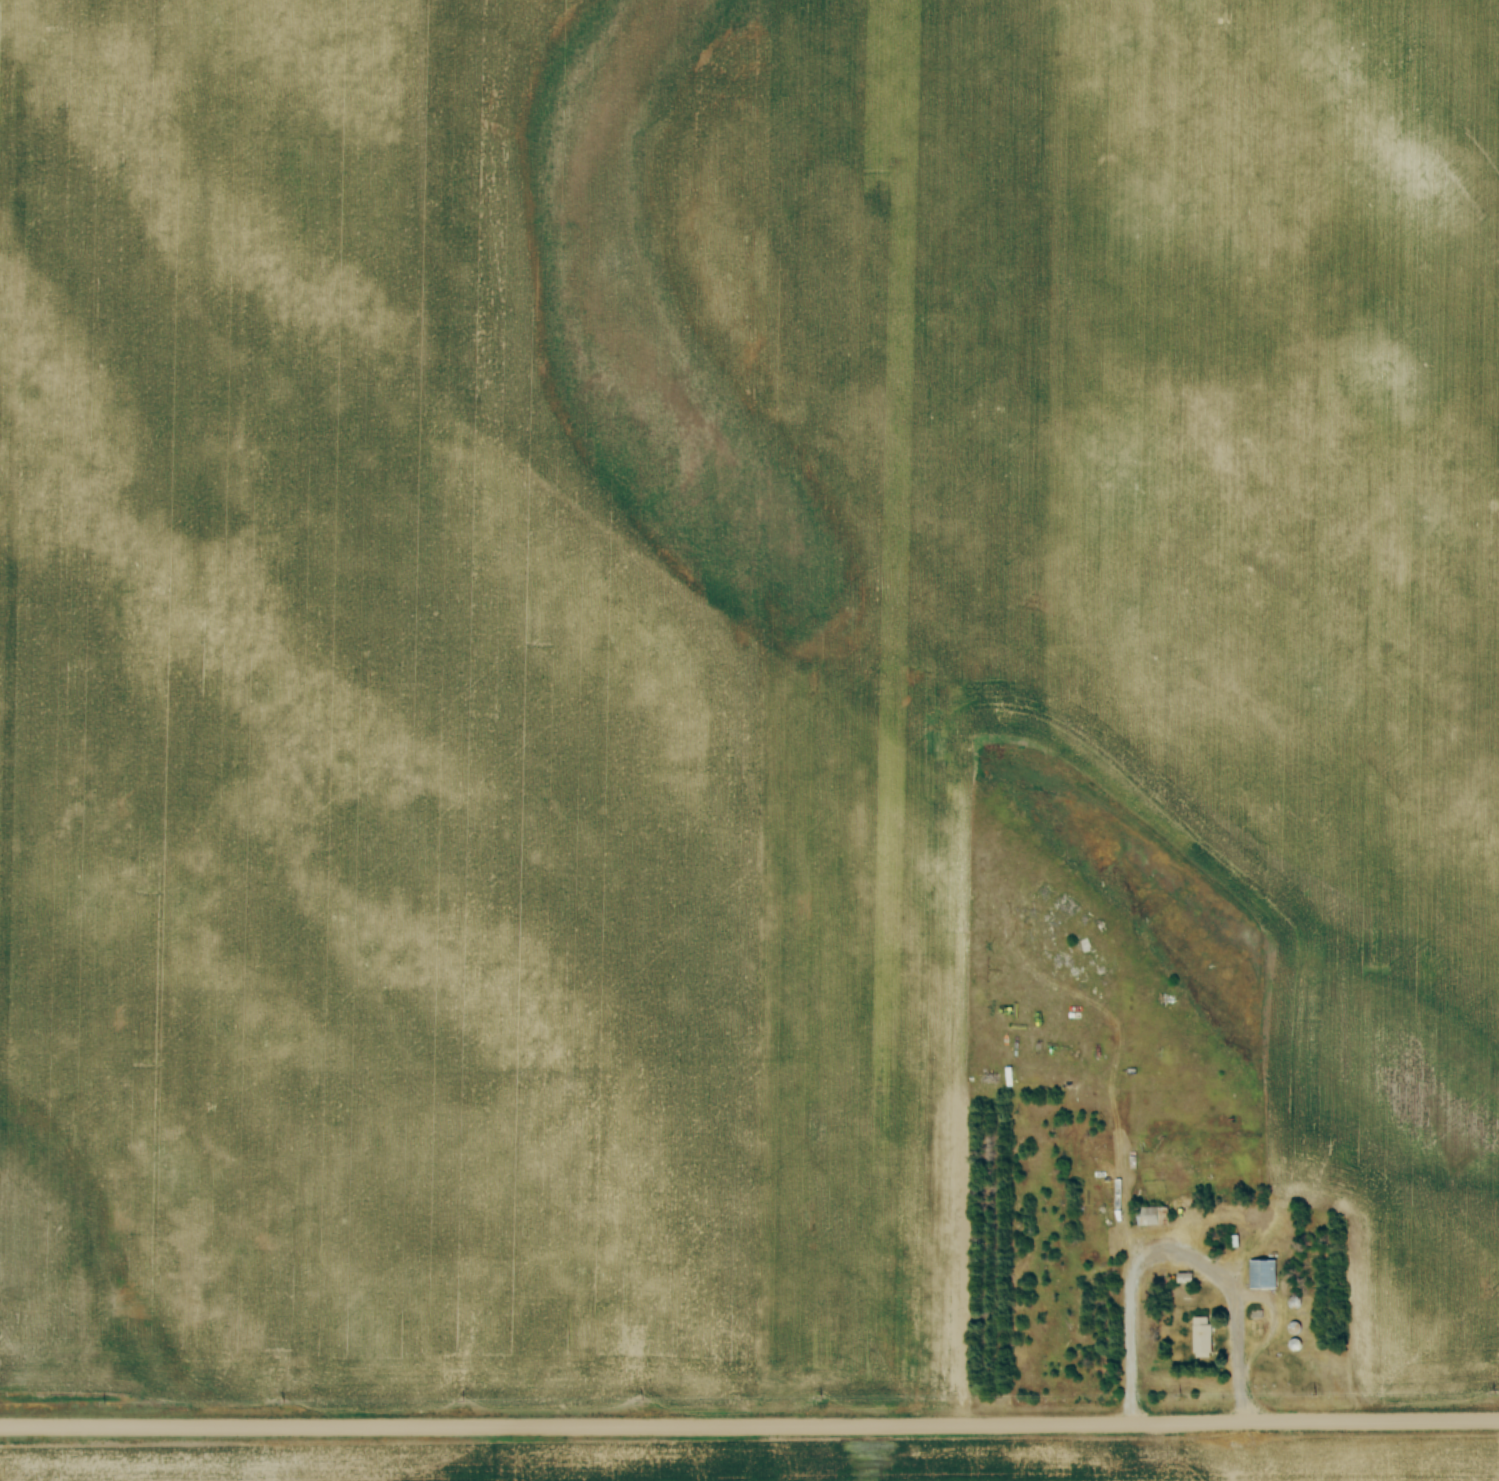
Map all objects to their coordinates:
building: (1154, 1217)
road: (1169, 1243)
building: (1264, 1275)
building: (1203, 1338)
road: (749, 1425)

